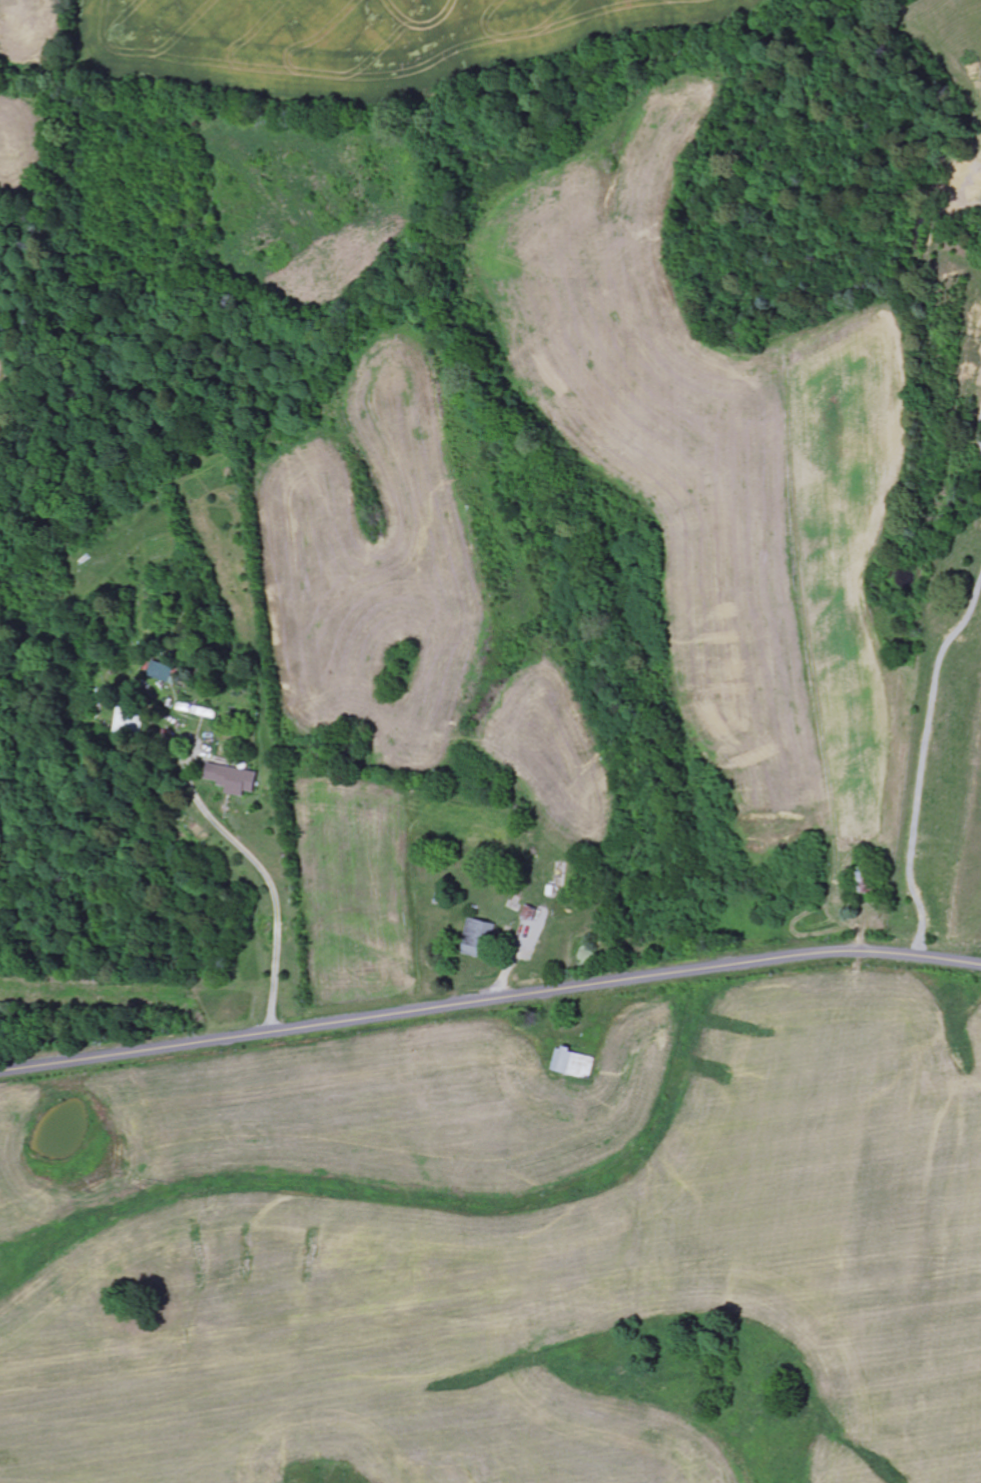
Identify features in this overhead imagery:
building: (128, 723)
building: (235, 780)
building: (533, 914)
building: (480, 939)
road: (489, 1000)
building: (575, 1064)

